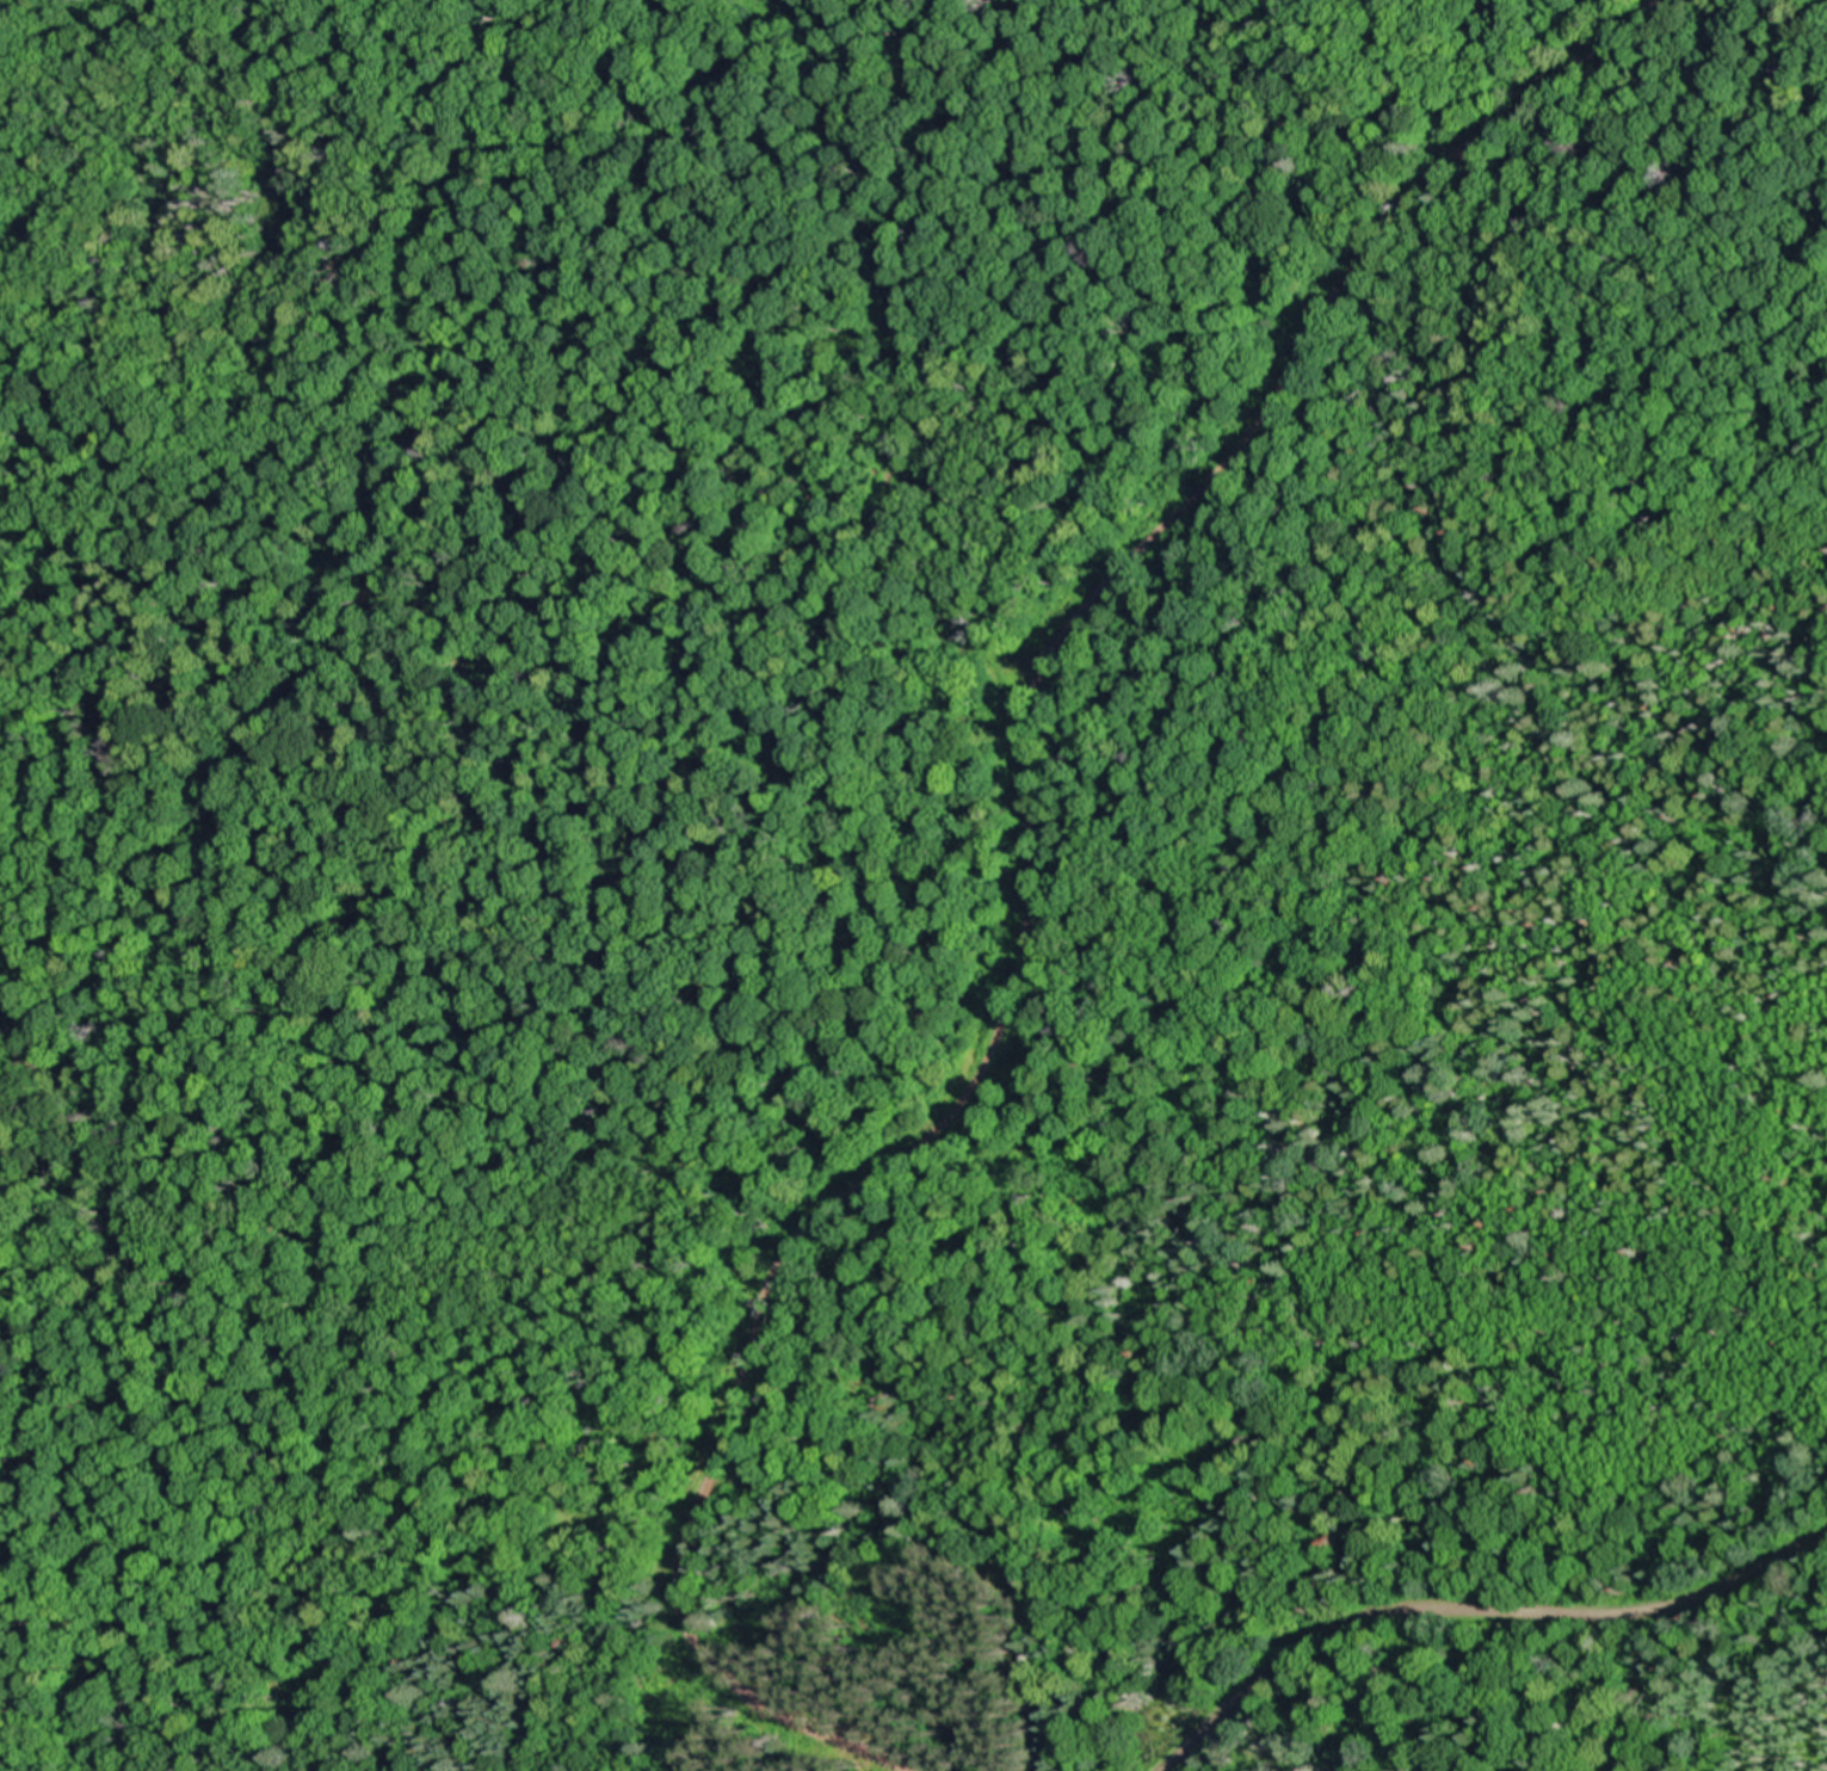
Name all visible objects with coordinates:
road: (1476, 1617)

